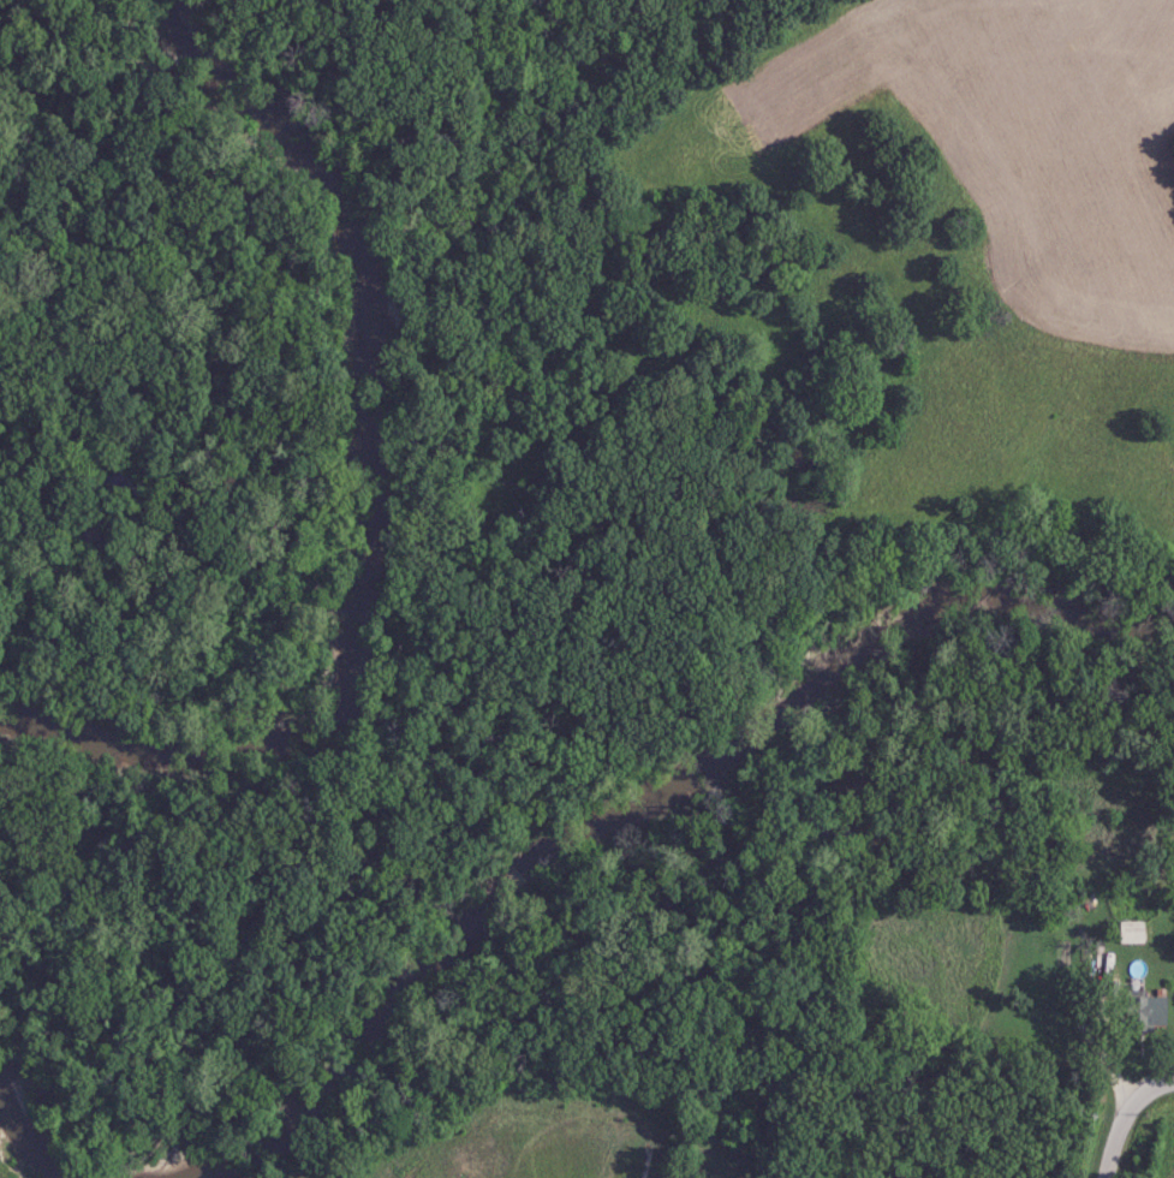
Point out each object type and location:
building: (1131, 932)
building: (1144, 1010)
park: (161, 1108)
road: (1126, 1119)

